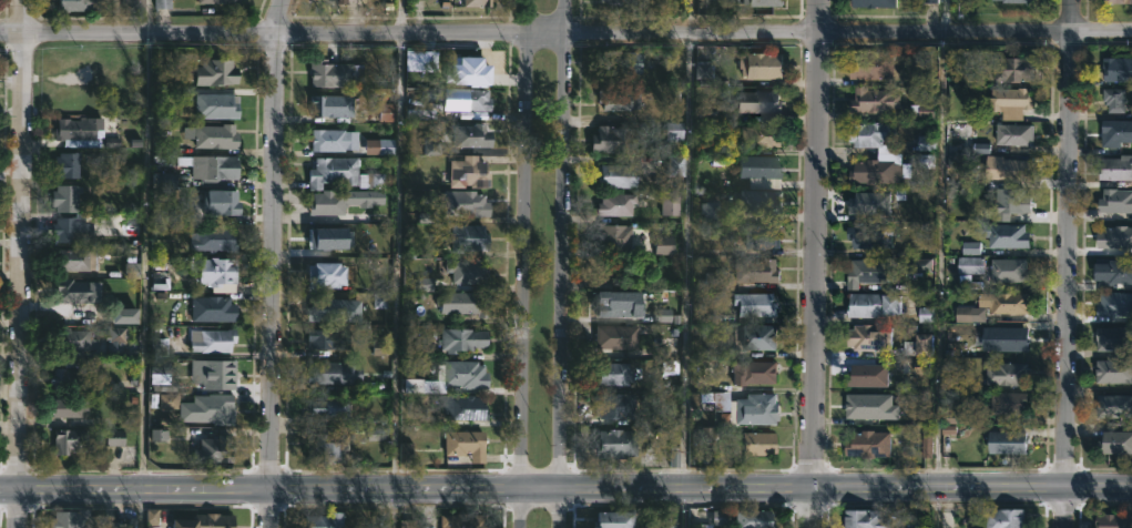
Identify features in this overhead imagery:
building: (343, 0)
building: (498, 0)
building: (222, 1)
building: (1019, 1)
building: (1116, 1)
building: (479, 2)
building: (614, 2)
building: (767, 2)
building: (869, 3)
building: (82, 4)
building: (133, 6)
road: (400, 16)
road: (691, 16)
road: (565, 31)
building: (472, 61)
building: (618, 61)
building: (123, 64)
building: (762, 65)
building: (869, 67)
building: (1010, 69)
building: (1115, 69)
building: (217, 72)
building: (701, 72)
building: (335, 73)
building: (473, 99)
building: (615, 100)
building: (870, 100)
building: (1112, 100)
building: (756, 101)
building: (1008, 102)
building: (217, 105)
building: (333, 105)
building: (79, 128)
building: (675, 133)
building: (1114, 133)
building: (475, 134)
building: (1011, 134)
building: (757, 135)
building: (218, 136)
building: (334, 140)
building: (612, 140)
building: (887, 156)
building: (71, 164)
building: (676, 166)
building: (758, 166)
building: (1114, 167)
building: (215, 169)
building: (1004, 169)
building: (335, 171)
building: (470, 172)
building: (613, 175)
building: (373, 180)
building: (67, 197)
building: (1009, 200)
building: (763, 201)
building: (1113, 201)
building: (224, 202)
building: (341, 202)
building: (666, 202)
building: (867, 203)
building: (612, 204)
building: (467, 206)
building: (166, 209)
building: (74, 229)
building: (868, 235)
building: (1000, 235)
building: (336, 236)
building: (612, 236)
building: (765, 236)
building: (1113, 237)
building: (470, 238)
building: (215, 240)
road: (398, 258)
building: (80, 260)
road: (144, 260)
road: (19, 263)
road: (274, 263)
road: (563, 263)
road: (816, 263)
road: (1067, 263)
road: (527, 264)
road: (939, 264)
building: (967, 265)
building: (468, 270)
building: (758, 270)
building: (218, 271)
building: (1007, 271)
building: (878, 272)
building: (1111, 273)
building: (328, 275)
road: (687, 280)
building: (80, 291)
building: (466, 304)
building: (616, 304)
building: (869, 305)
building: (1003, 305)
building: (1112, 307)
building: (752, 308)
building: (213, 309)
building: (332, 311)
building: (612, 336)
building: (329, 337)
building: (755, 337)
building: (867, 337)
building: (463, 338)
building: (1003, 338)
building: (1112, 338)
building: (80, 341)
building: (118, 341)
building: (215, 341)
building: (916, 345)
building: (337, 372)
building: (749, 372)
building: (1112, 372)
building: (466, 373)
building: (220, 374)
building: (611, 374)
building: (1004, 374)
building: (72, 375)
building: (865, 375)
building: (712, 399)
building: (1006, 403)
building: (613, 406)
building: (69, 407)
building: (332, 407)
building: (466, 407)
building: (1113, 407)
building: (214, 408)
building: (754, 408)
building: (871, 409)
building: (71, 441)
building: (613, 443)
building: (1004, 443)
building: (1114, 443)
building: (467, 444)
building: (755, 444)
building: (865, 444)
building: (330, 447)
building: (215, 449)
road: (565, 486)
road: (140, 507)
road: (395, 507)
building: (704, 518)
building: (1001, 518)
building: (71, 519)
building: (610, 519)
building: (757, 519)
building: (861, 519)
building: (325, 520)
building: (466, 520)
building: (1112, 520)
building: (208, 521)
building: (123, 524)
building: (408, 525)

